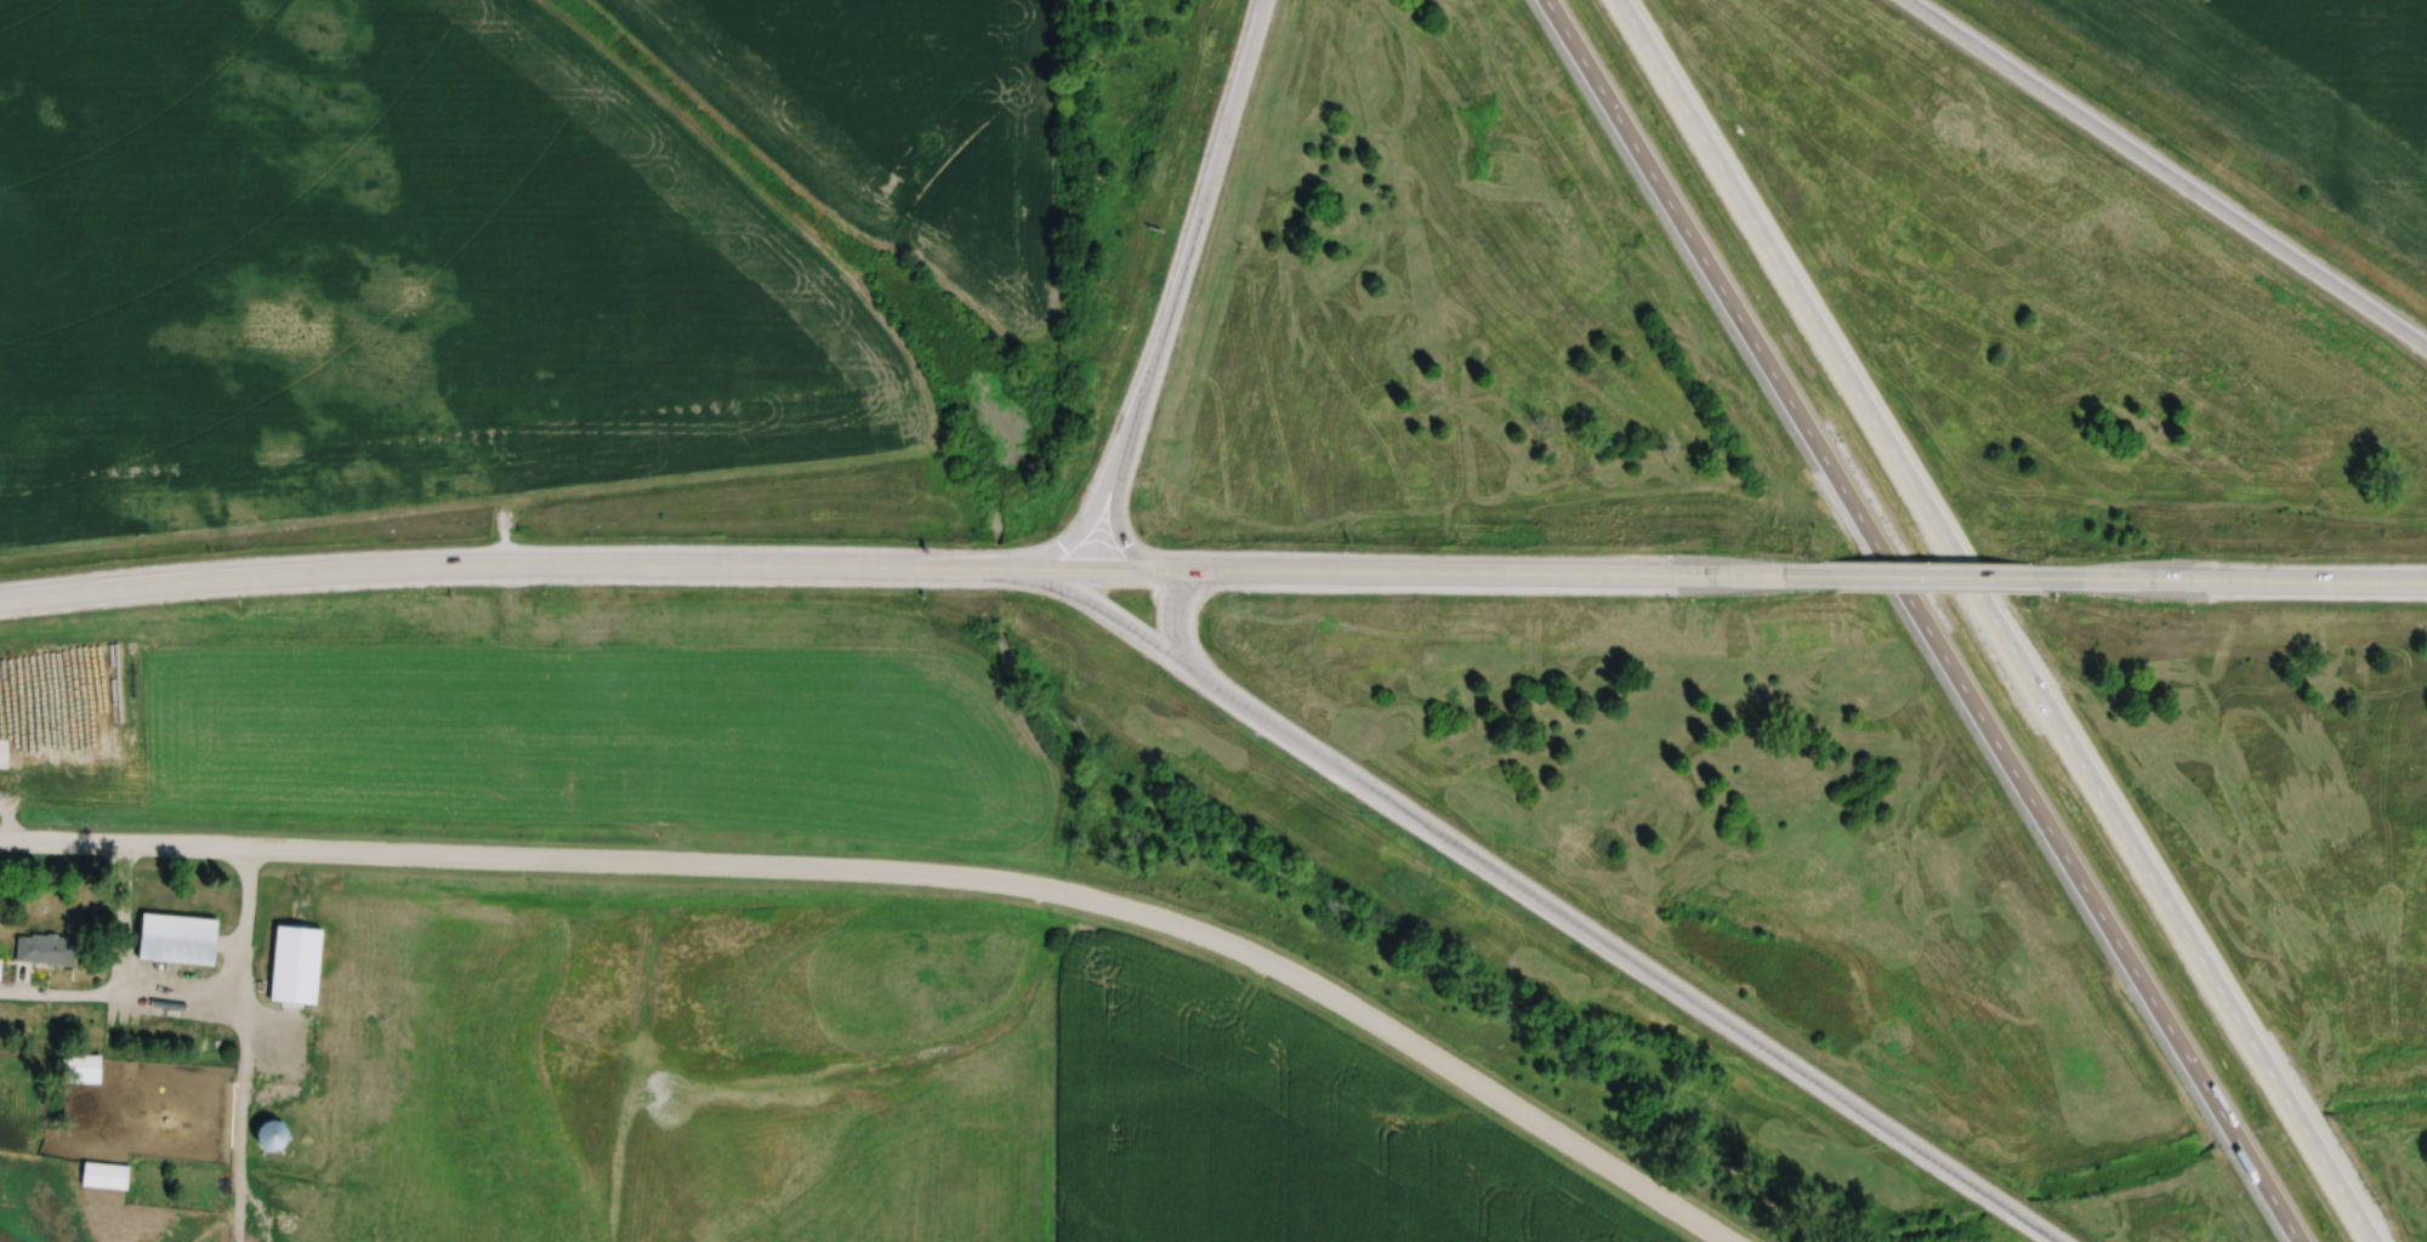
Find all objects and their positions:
road: (2164, 176)
road: (1705, 272)
road: (1171, 285)
road: (824, 564)
road: (284, 570)
road: (1887, 570)
road: (1454, 572)
road: (1932, 576)
road: (2230, 579)
road: (1112, 616)
road: (1991, 621)
road: (910, 871)
road: (2097, 916)
road: (1584, 925)
building: (178, 935)
building: (46, 945)
building: (296, 961)
building: (0, 965)
building: (84, 1065)
building: (106, 1172)

